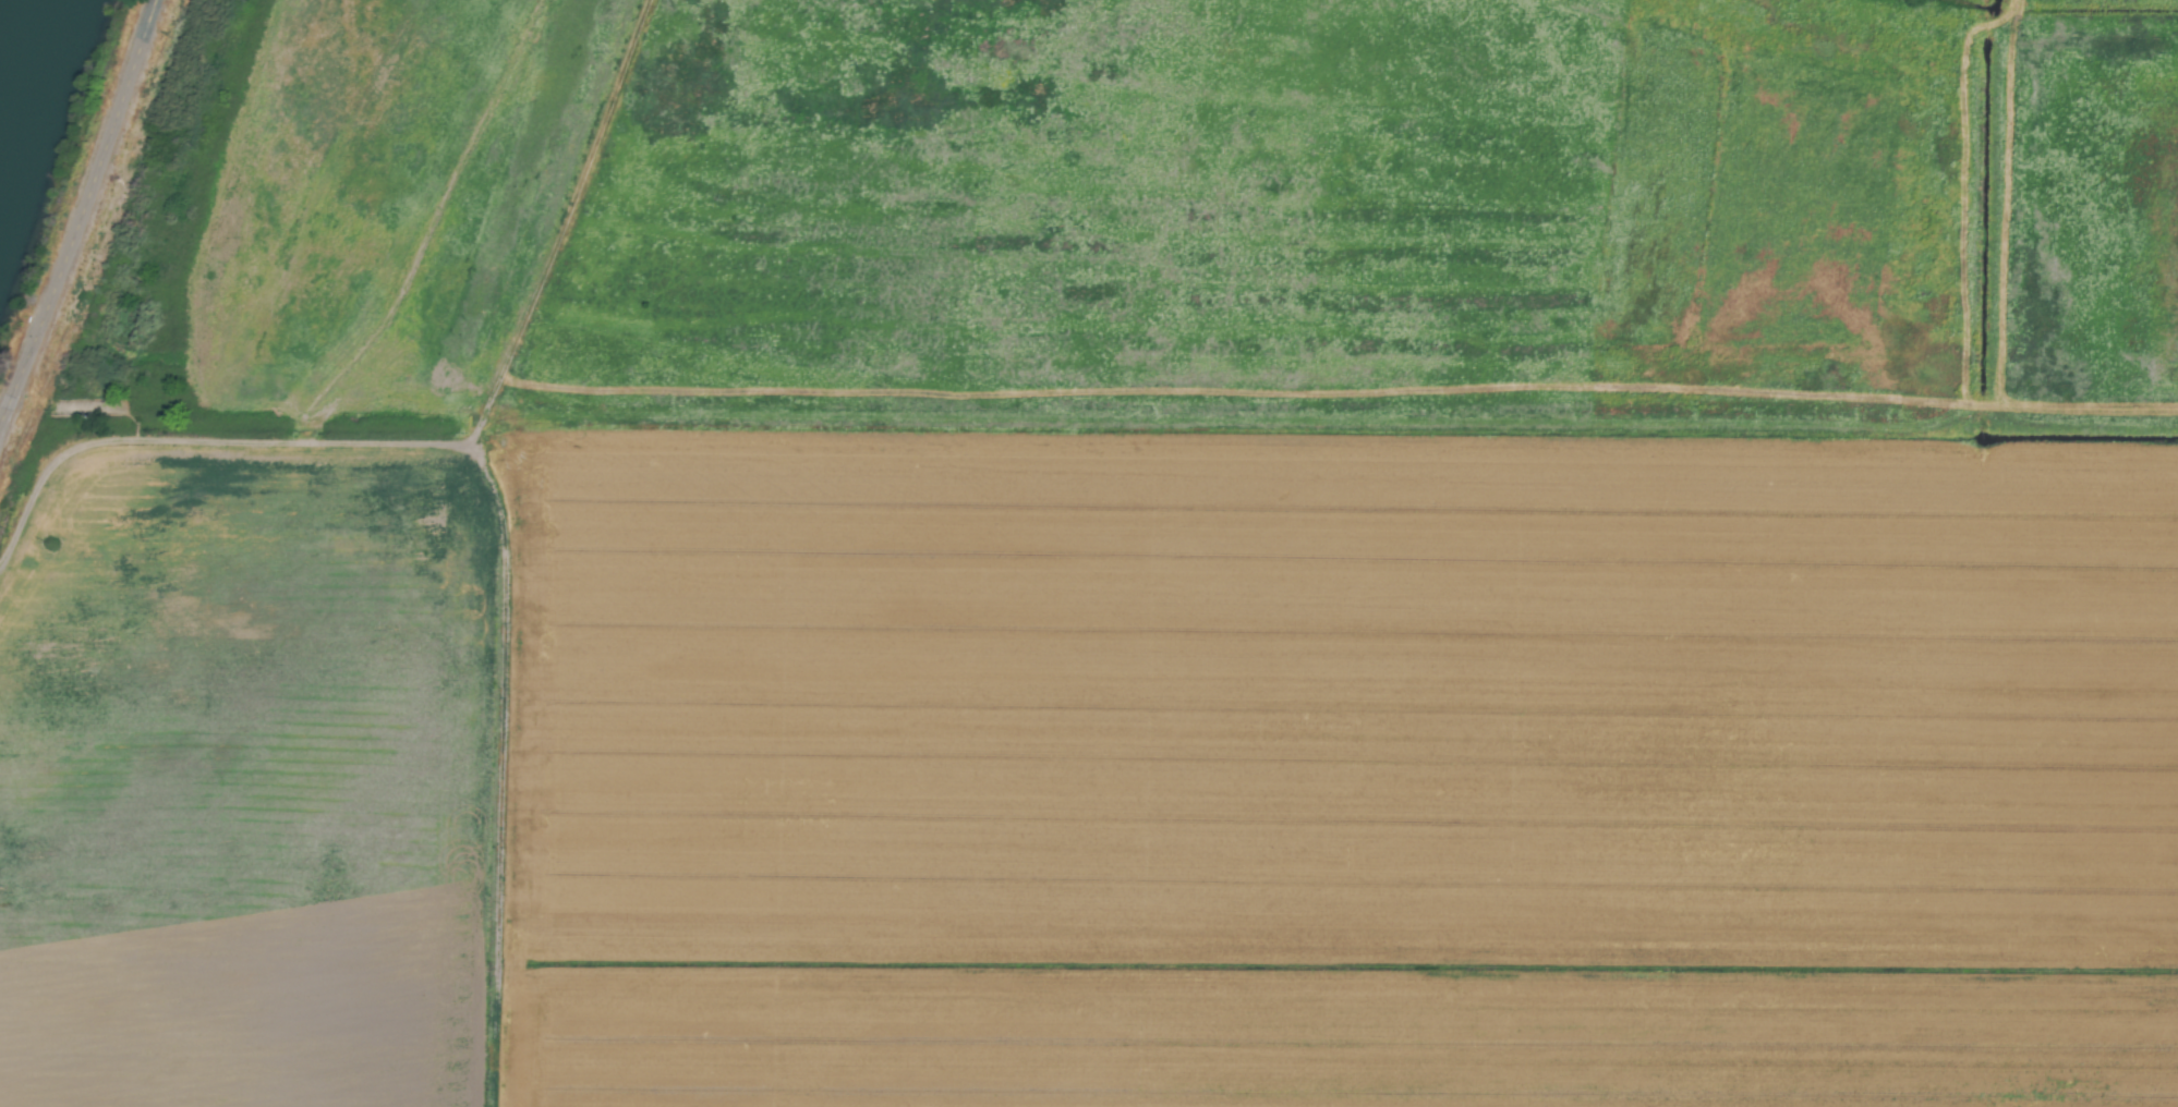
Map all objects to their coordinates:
road: (80, 209)
crop: (1051, 670)

